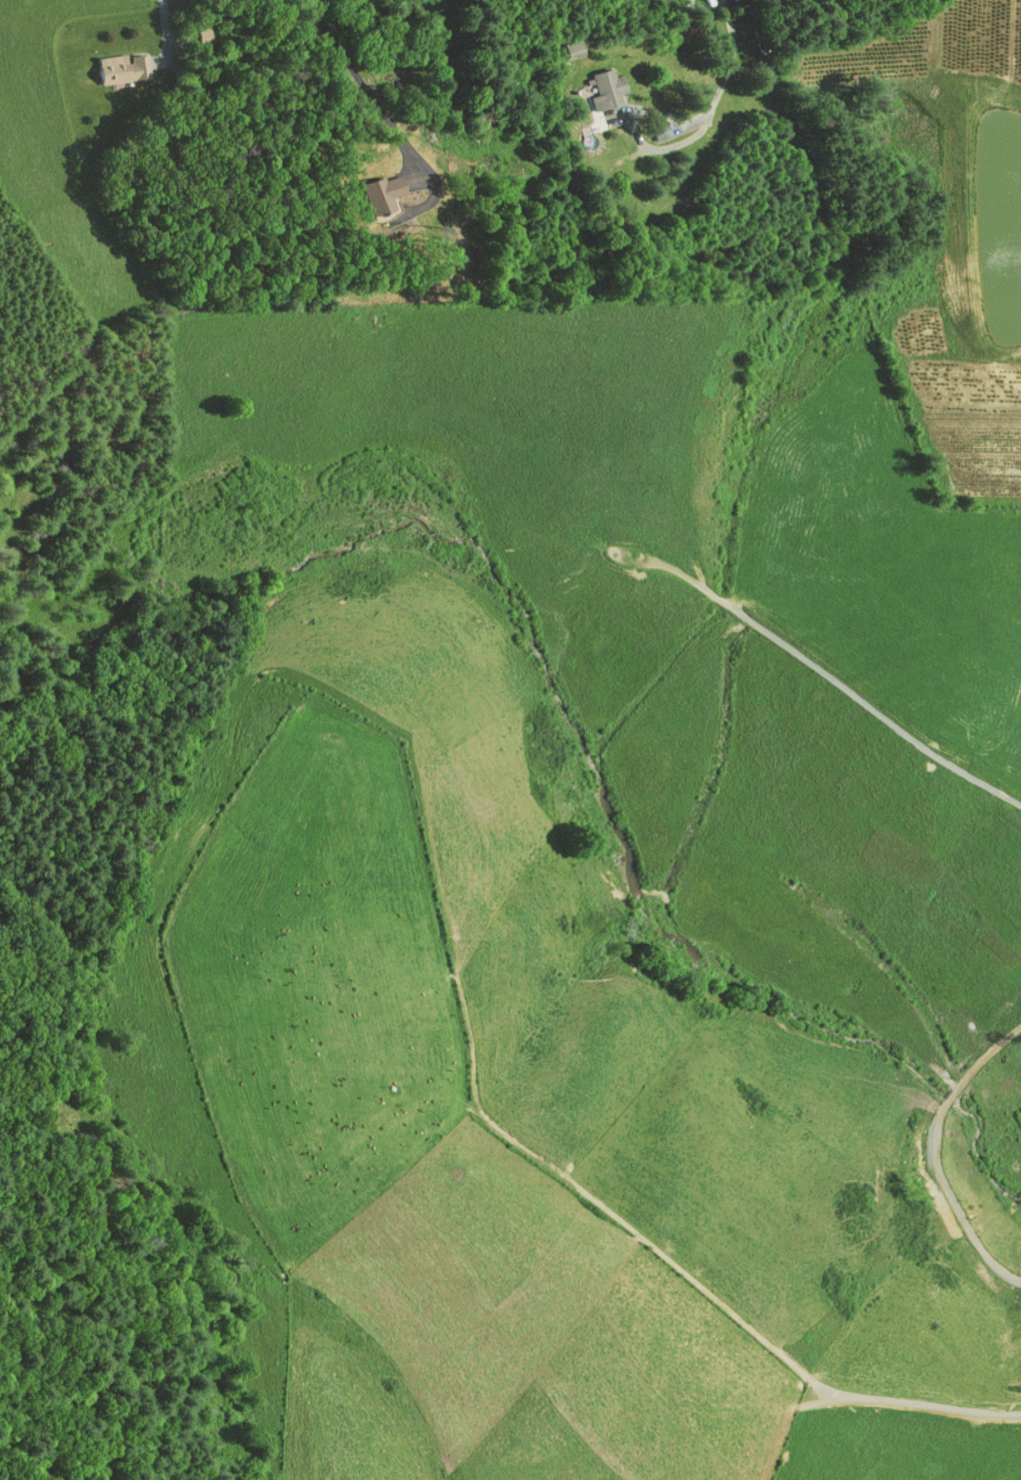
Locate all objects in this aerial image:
road: (165, 27)
road: (59, 59)
road: (726, 76)

